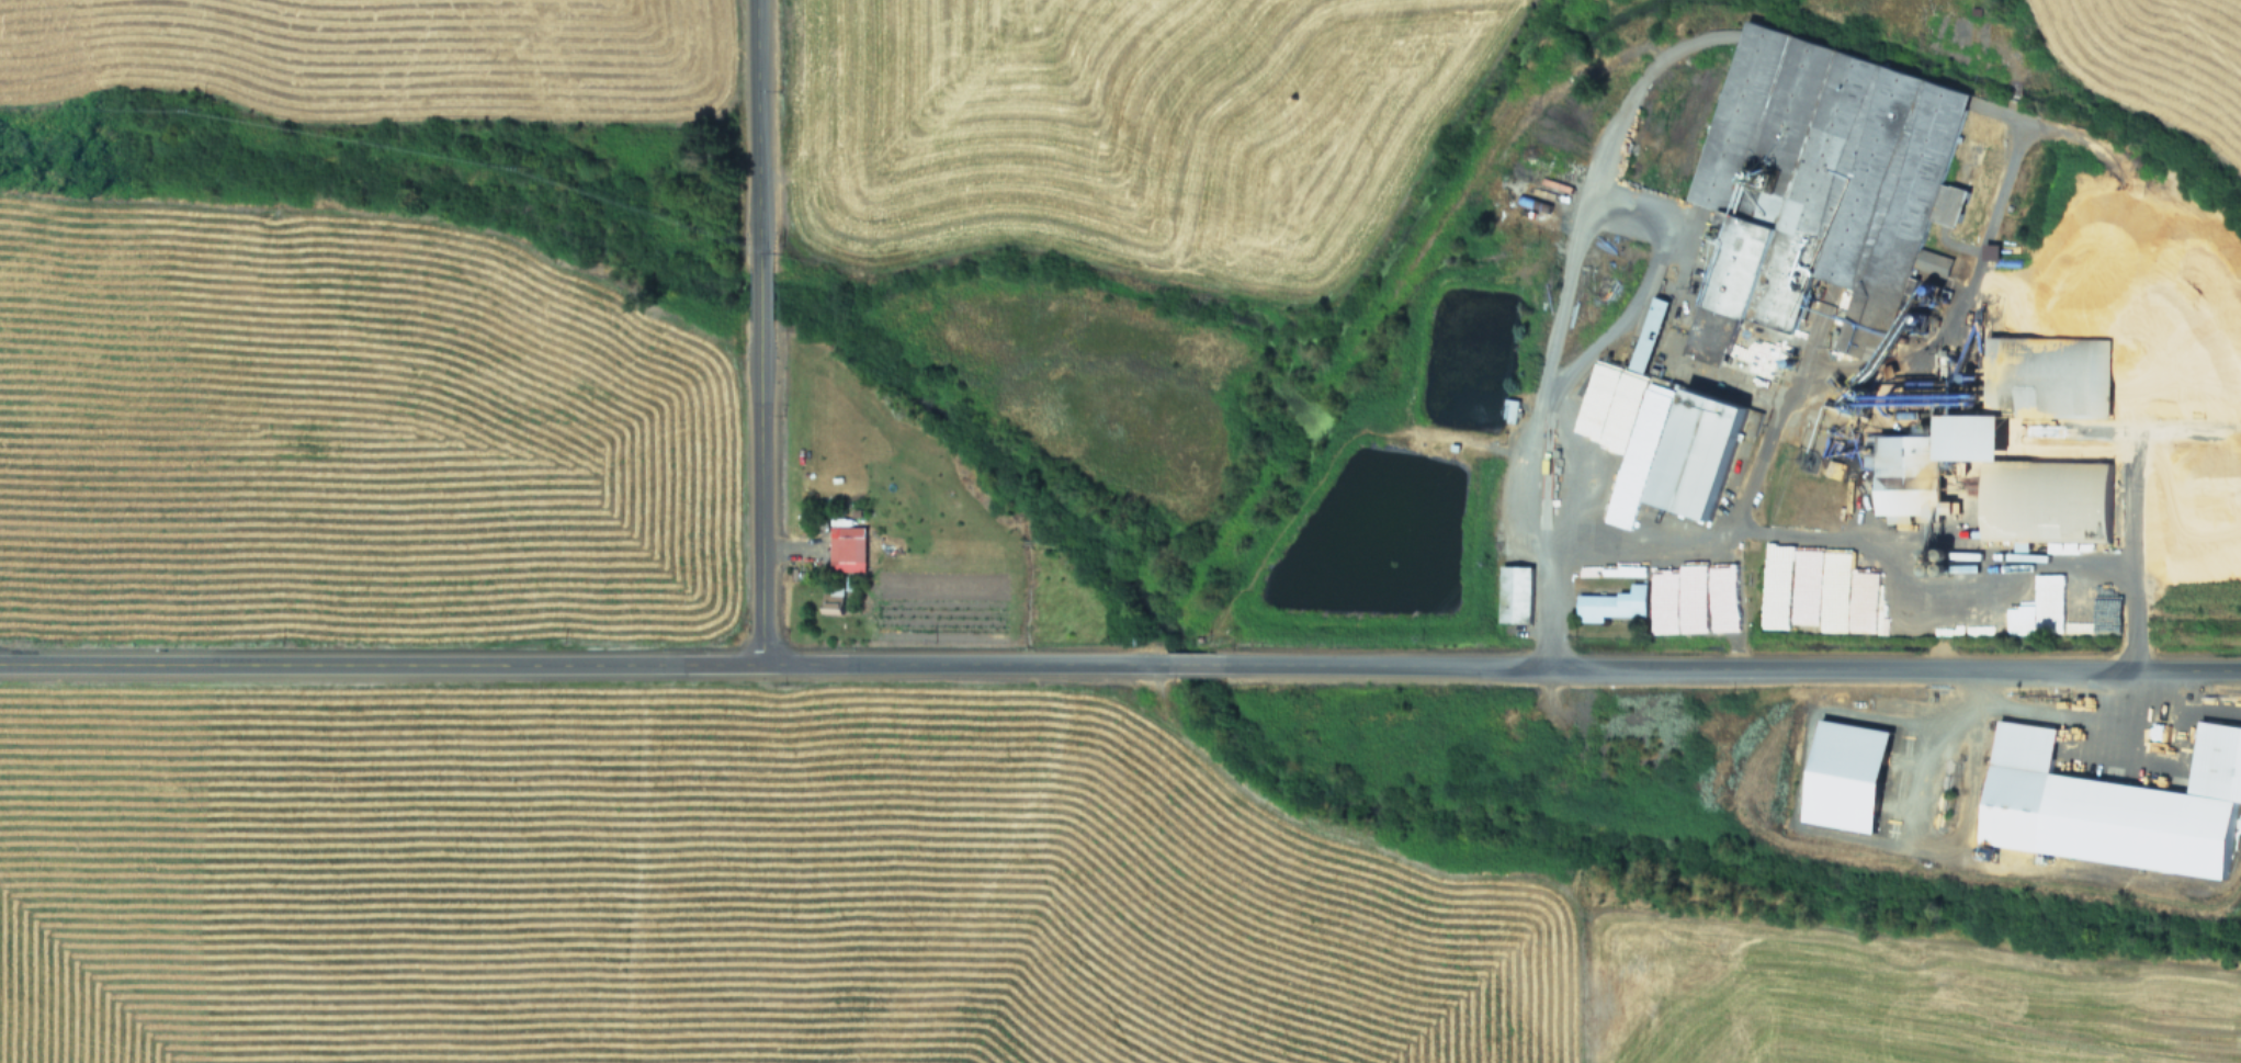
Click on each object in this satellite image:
road: (751, 115)
building: (1929, 262)
road: (756, 294)
building: (1644, 333)
building: (2064, 369)
building: (1690, 453)
building: (1989, 484)
road: (757, 510)
crop: (1120, 531)
building: (844, 549)
building: (1510, 595)
building: (829, 601)
building: (1608, 604)
road: (1185, 663)
road: (580, 664)
road: (1724, 669)
building: (1841, 776)
building: (2110, 805)

